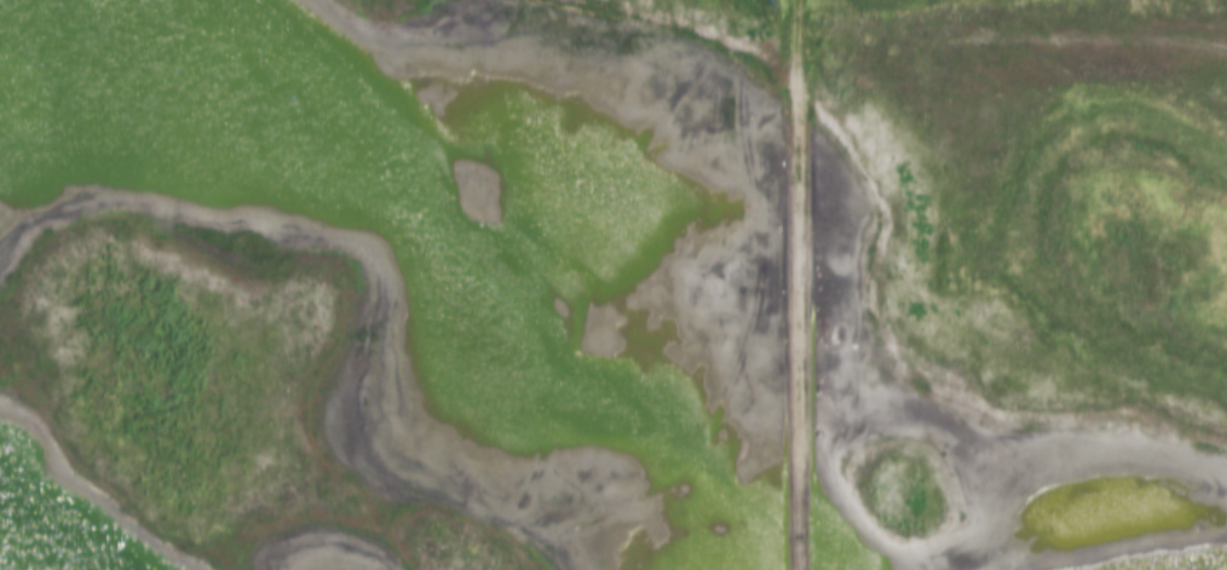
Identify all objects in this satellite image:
road: (802, 284)

